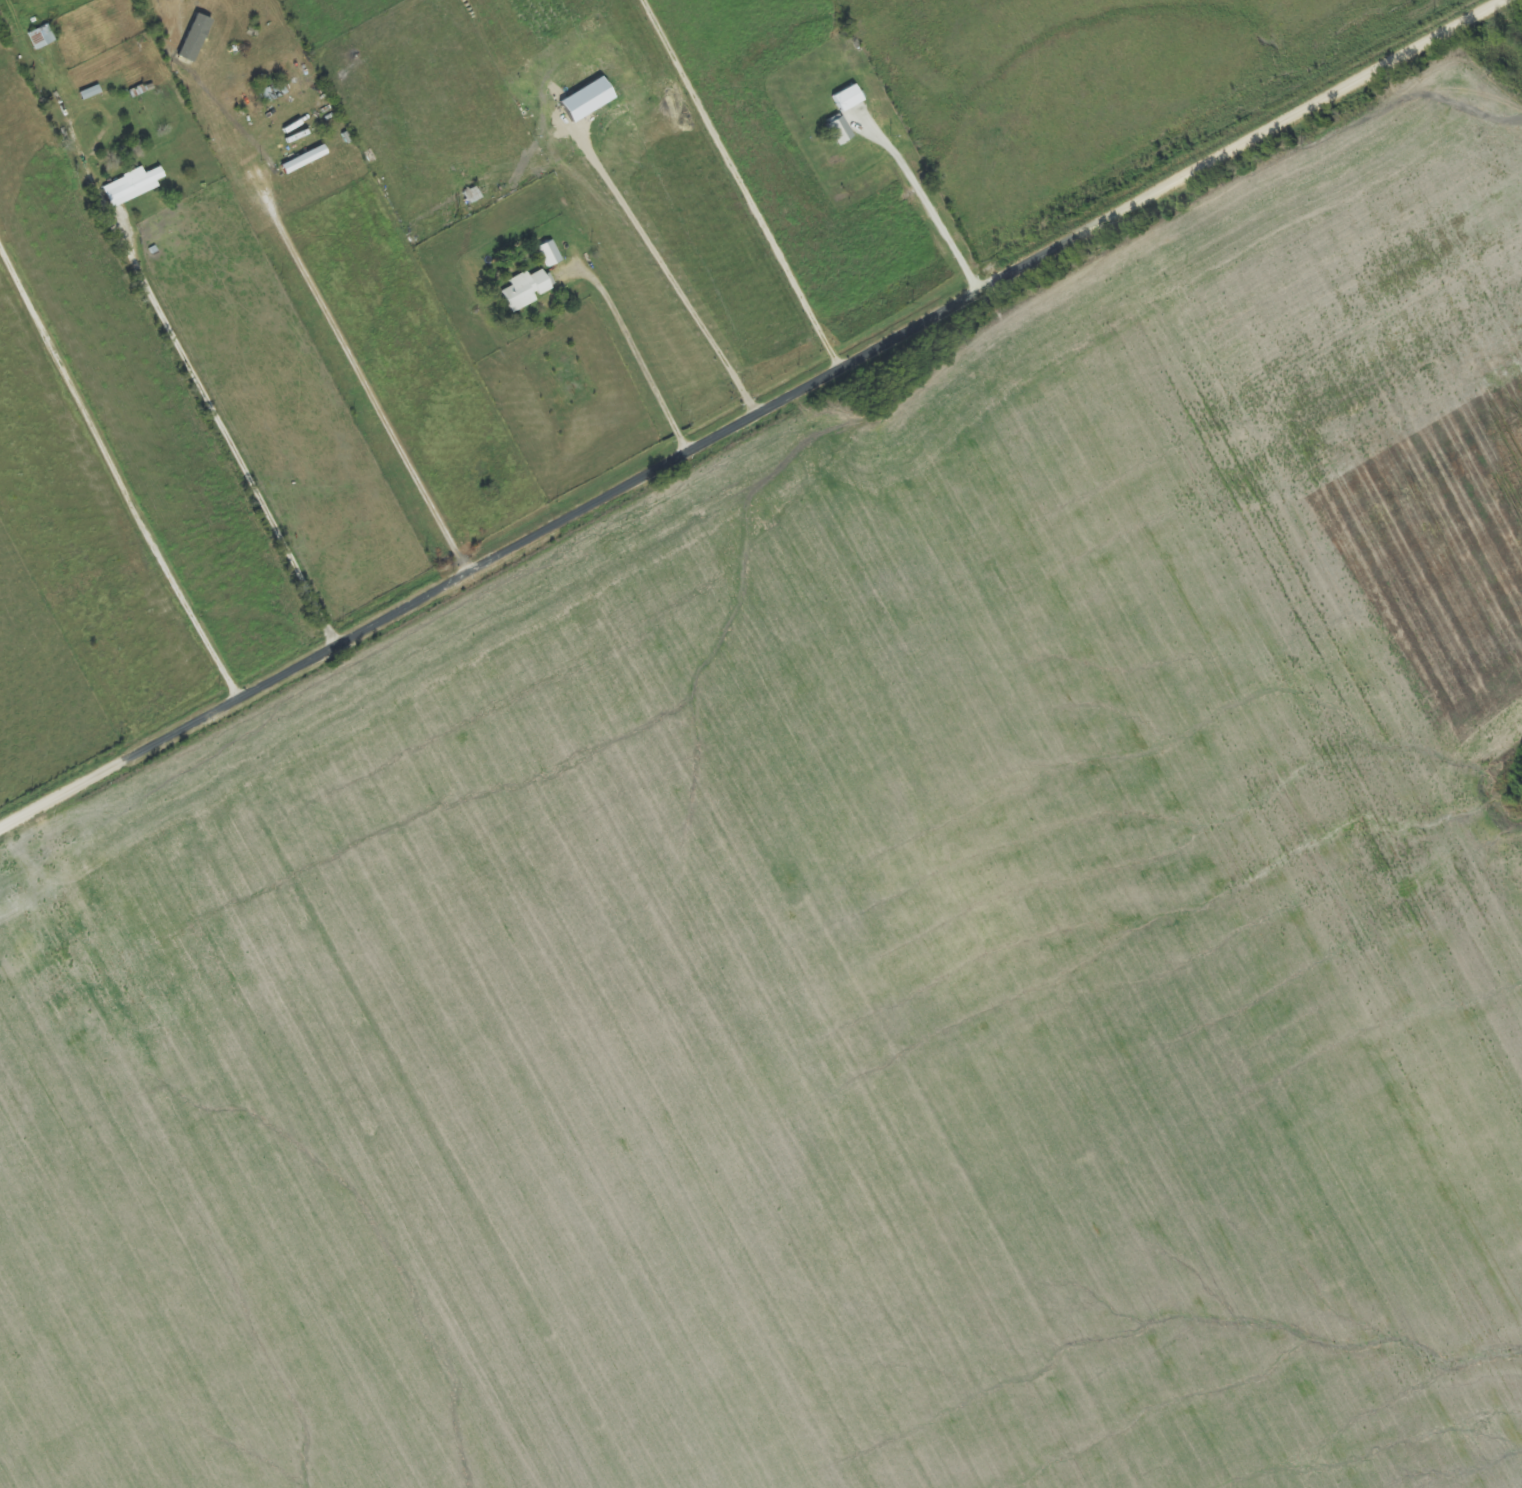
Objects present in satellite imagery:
building: (39, 37)
building: (844, 99)
building: (581, 100)
building: (836, 131)
road: (740, 184)
building: (129, 186)
building: (547, 254)
road: (312, 314)
road: (752, 417)

